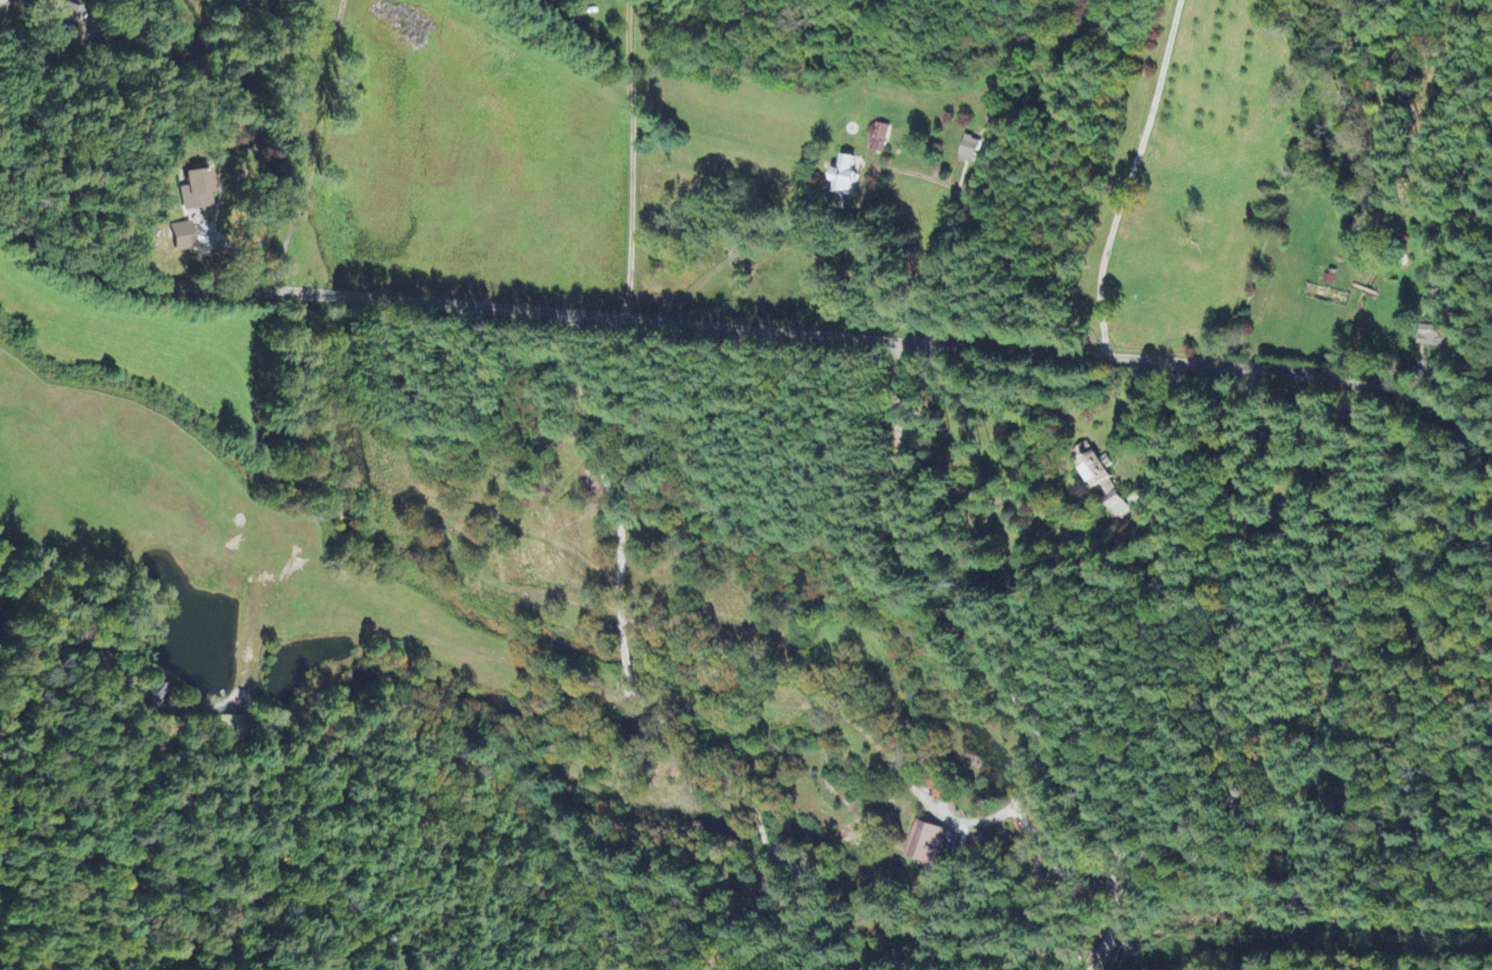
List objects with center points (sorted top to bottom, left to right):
building: (59, 11)
building: (876, 139)
road: (291, 146)
building: (965, 151)
building: (839, 178)
road: (1127, 178)
road: (866, 182)
road: (633, 188)
building: (194, 204)
building: (177, 237)
road: (749, 332)
road: (1102, 411)
building: (1097, 480)
road: (995, 667)
road: (36, 668)
building: (230, 728)
building: (922, 845)

